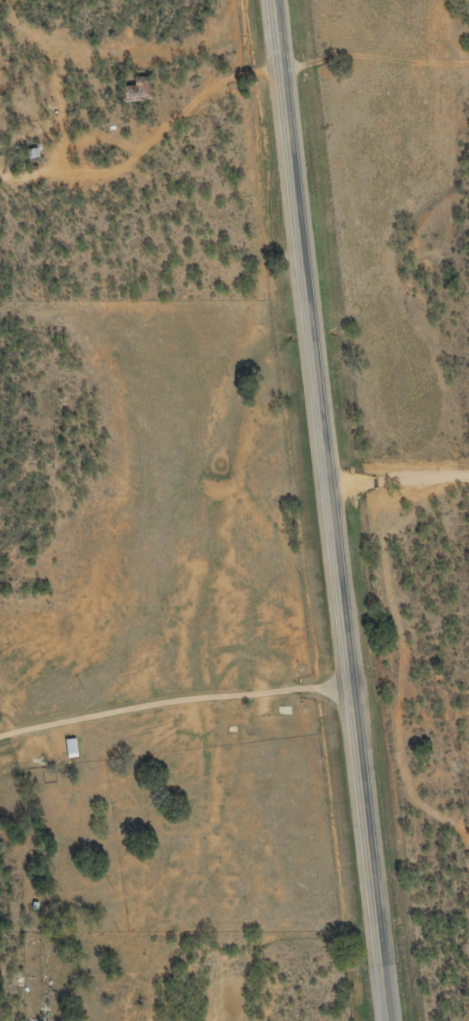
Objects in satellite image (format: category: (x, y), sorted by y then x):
road: (377, 60)
building: (131, 96)
road: (333, 510)
building: (72, 750)
road: (104, 962)

